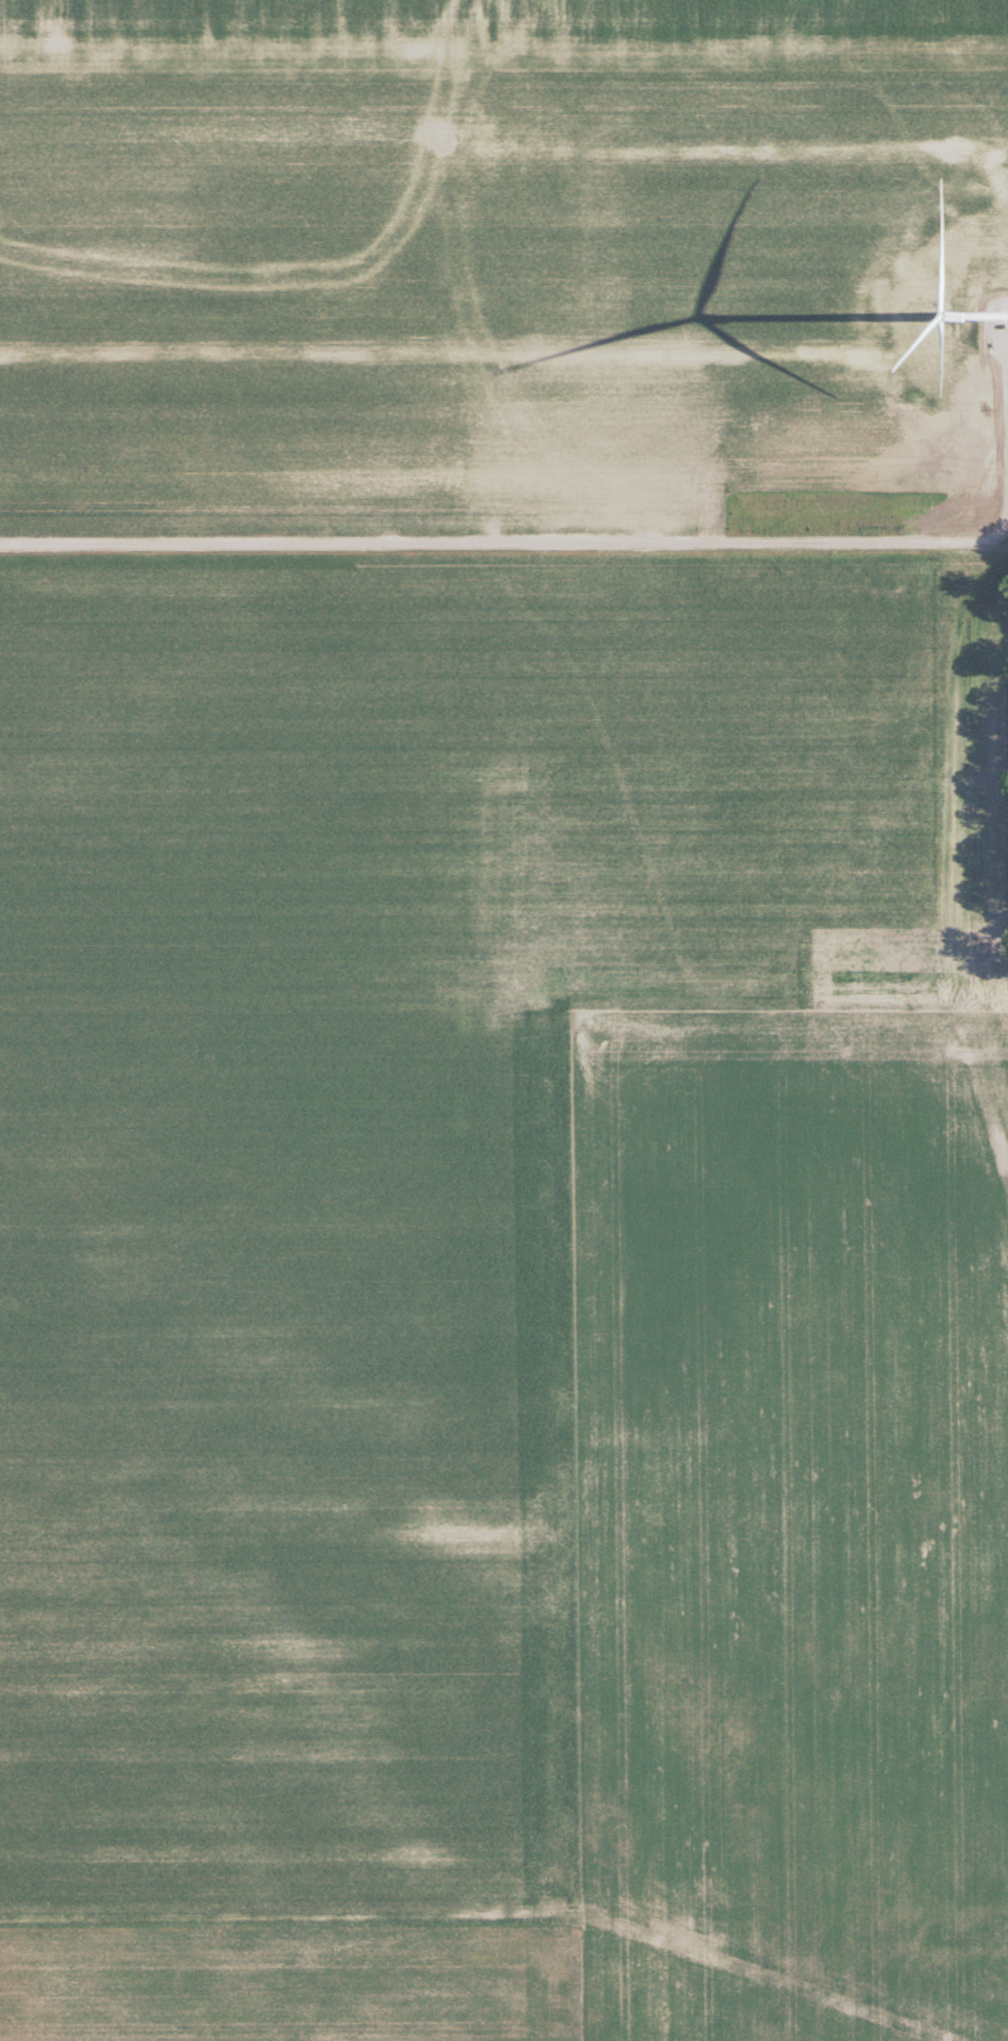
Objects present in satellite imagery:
wind turbine: (1007, 317)

